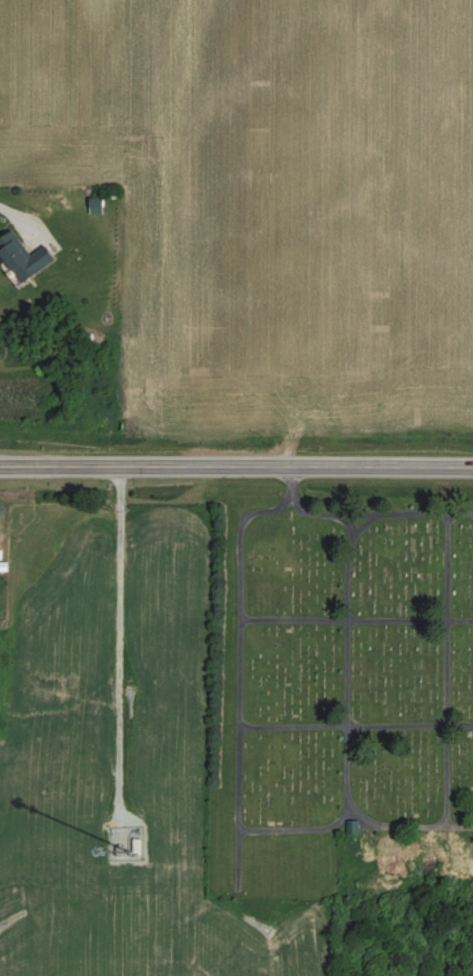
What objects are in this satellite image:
road: (14, 217)
building: (28, 258)
road: (236, 465)
building: (3, 553)
park: (335, 673)

